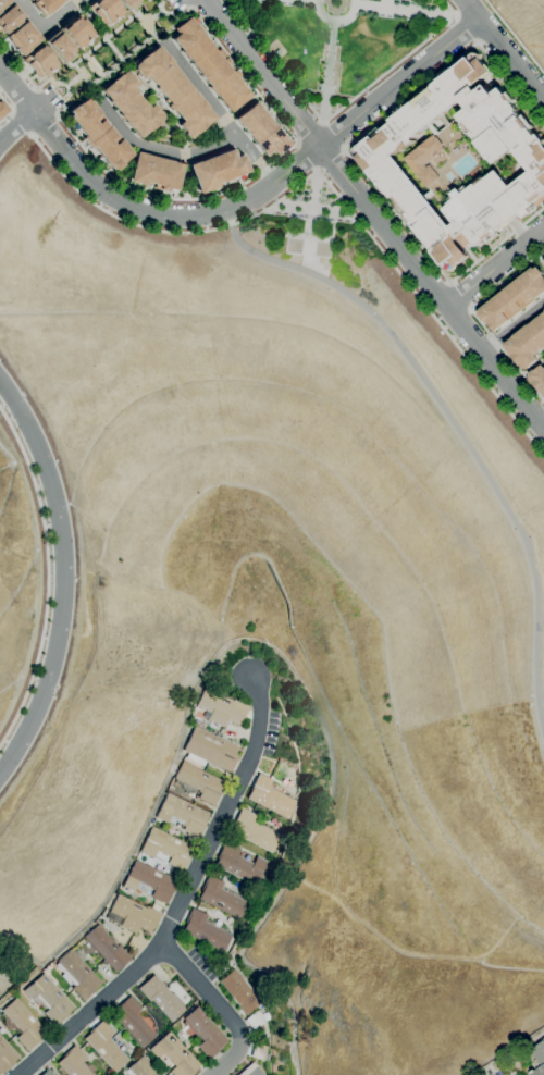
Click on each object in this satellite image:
building: (29, 0)
building: (3, 2)
building: (126, 3)
road: (185, 4)
road: (194, 4)
building: (45, 5)
road: (462, 7)
building: (104, 10)
road: (405, 10)
road: (159, 12)
road: (165, 13)
building: (9, 18)
road: (335, 21)
road: (156, 24)
road: (46, 25)
road: (465, 28)
road: (97, 29)
road: (114, 30)
building: (76, 32)
road: (152, 32)
road: (331, 32)
road: (489, 32)
road: (515, 37)
building: (22, 38)
park: (337, 41)
building: (58, 47)
road: (137, 47)
road: (505, 48)
road: (86, 55)
road: (82, 57)
building: (39, 62)
road: (65, 63)
road: (71, 63)
building: (209, 65)
road: (112, 67)
road: (96, 73)
road: (100, 74)
road: (25, 77)
road: (399, 82)
road: (90, 83)
road: (66, 85)
road: (198, 86)
building: (173, 91)
road: (22, 99)
road: (46, 102)
road: (322, 103)
building: (132, 106)
road: (157, 106)
building: (2, 109)
road: (10, 109)
road: (334, 111)
road: (25, 118)
road: (23, 123)
road: (46, 127)
building: (260, 131)
road: (308, 134)
building: (97, 135)
road: (333, 136)
road: (188, 152)
road: (346, 152)
road: (306, 158)
road: (330, 159)
building: (428, 159)
building: (380, 161)
building: (217, 170)
building: (154, 172)
road: (326, 182)
road: (243, 183)
road: (312, 194)
road: (313, 208)
road: (138, 209)
road: (373, 215)
park: (309, 233)
road: (307, 255)
road: (540, 260)
road: (494, 264)
road: (433, 288)
road: (460, 293)
building: (515, 299)
road: (478, 318)
road: (457, 320)
road: (512, 328)
building: (528, 343)
road: (533, 367)
building: (539, 378)
road: (540, 417)
road: (455, 427)
road: (48, 577)
road: (62, 577)
building: (220, 708)
building: (210, 749)
building: (199, 782)
building: (271, 798)
building: (182, 815)
building: (252, 831)
building: (166, 848)
building: (239, 865)
building: (149, 881)
building: (221, 898)
road: (188, 899)
building: (132, 915)
building: (203, 930)
building: (107, 949)
building: (77, 975)
building: (239, 992)
building: (161, 998)
building: (49, 999)
road: (218, 1009)
building: (256, 1021)
building: (133, 1022)
building: (24, 1024)
building: (203, 1033)
building: (107, 1047)
building: (259, 1052)
building: (174, 1055)
building: (7, 1057)
building: (539, 1059)
building: (72, 1062)
building: (141, 1067)
building: (250, 1071)
building: (46, 1073)

